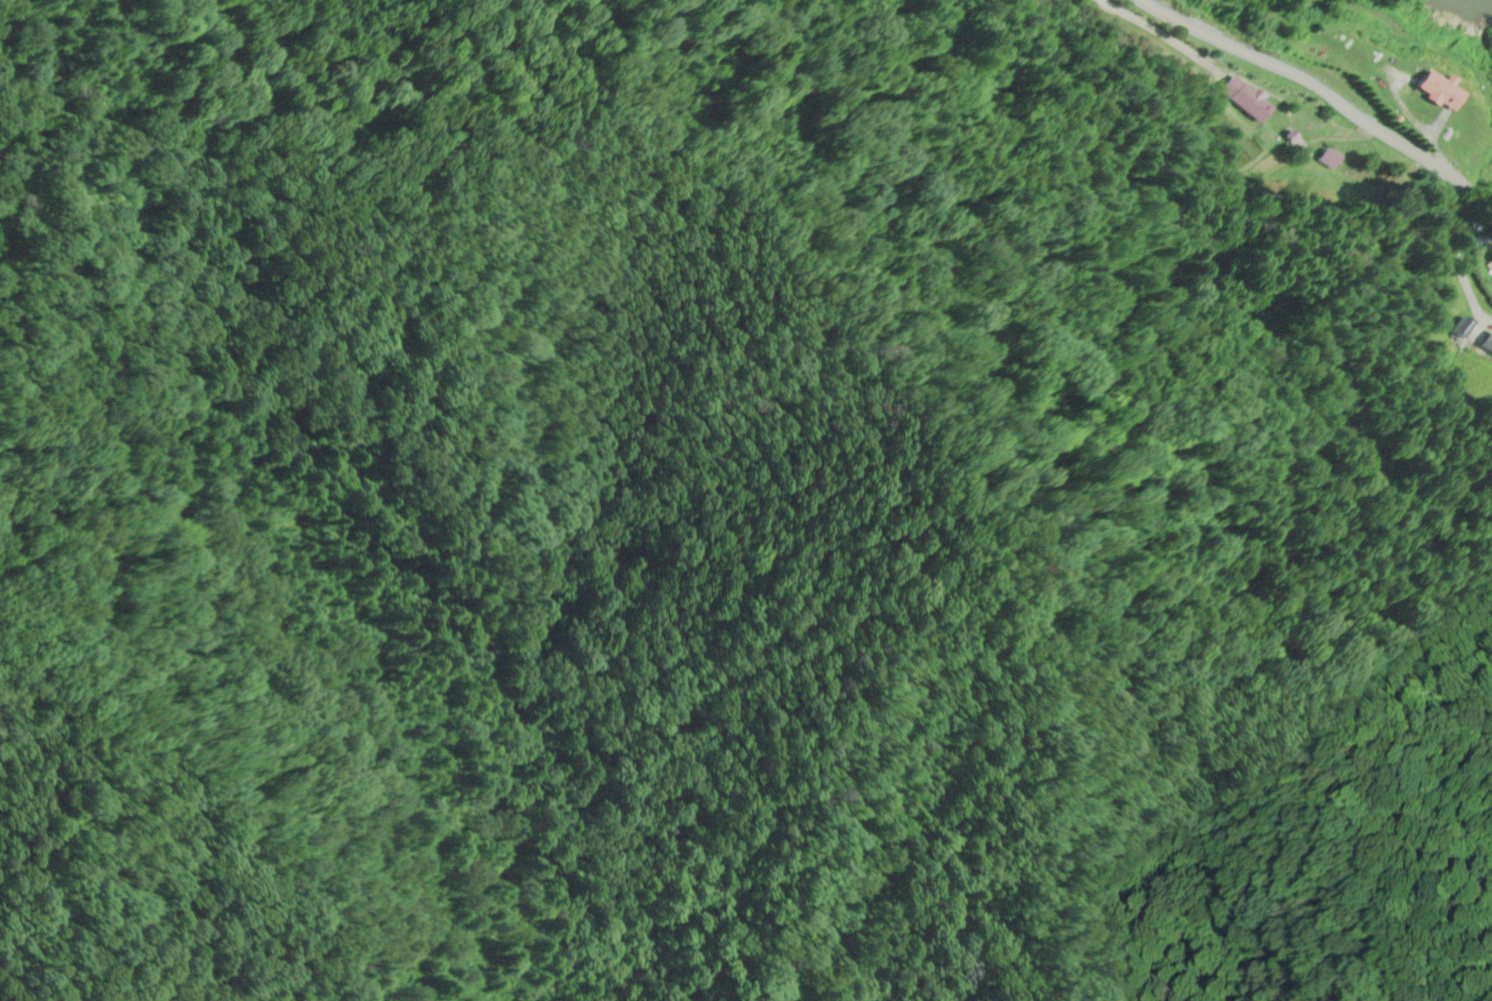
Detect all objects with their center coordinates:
road: (1322, 91)
building: (1438, 91)
building: (1491, 354)

